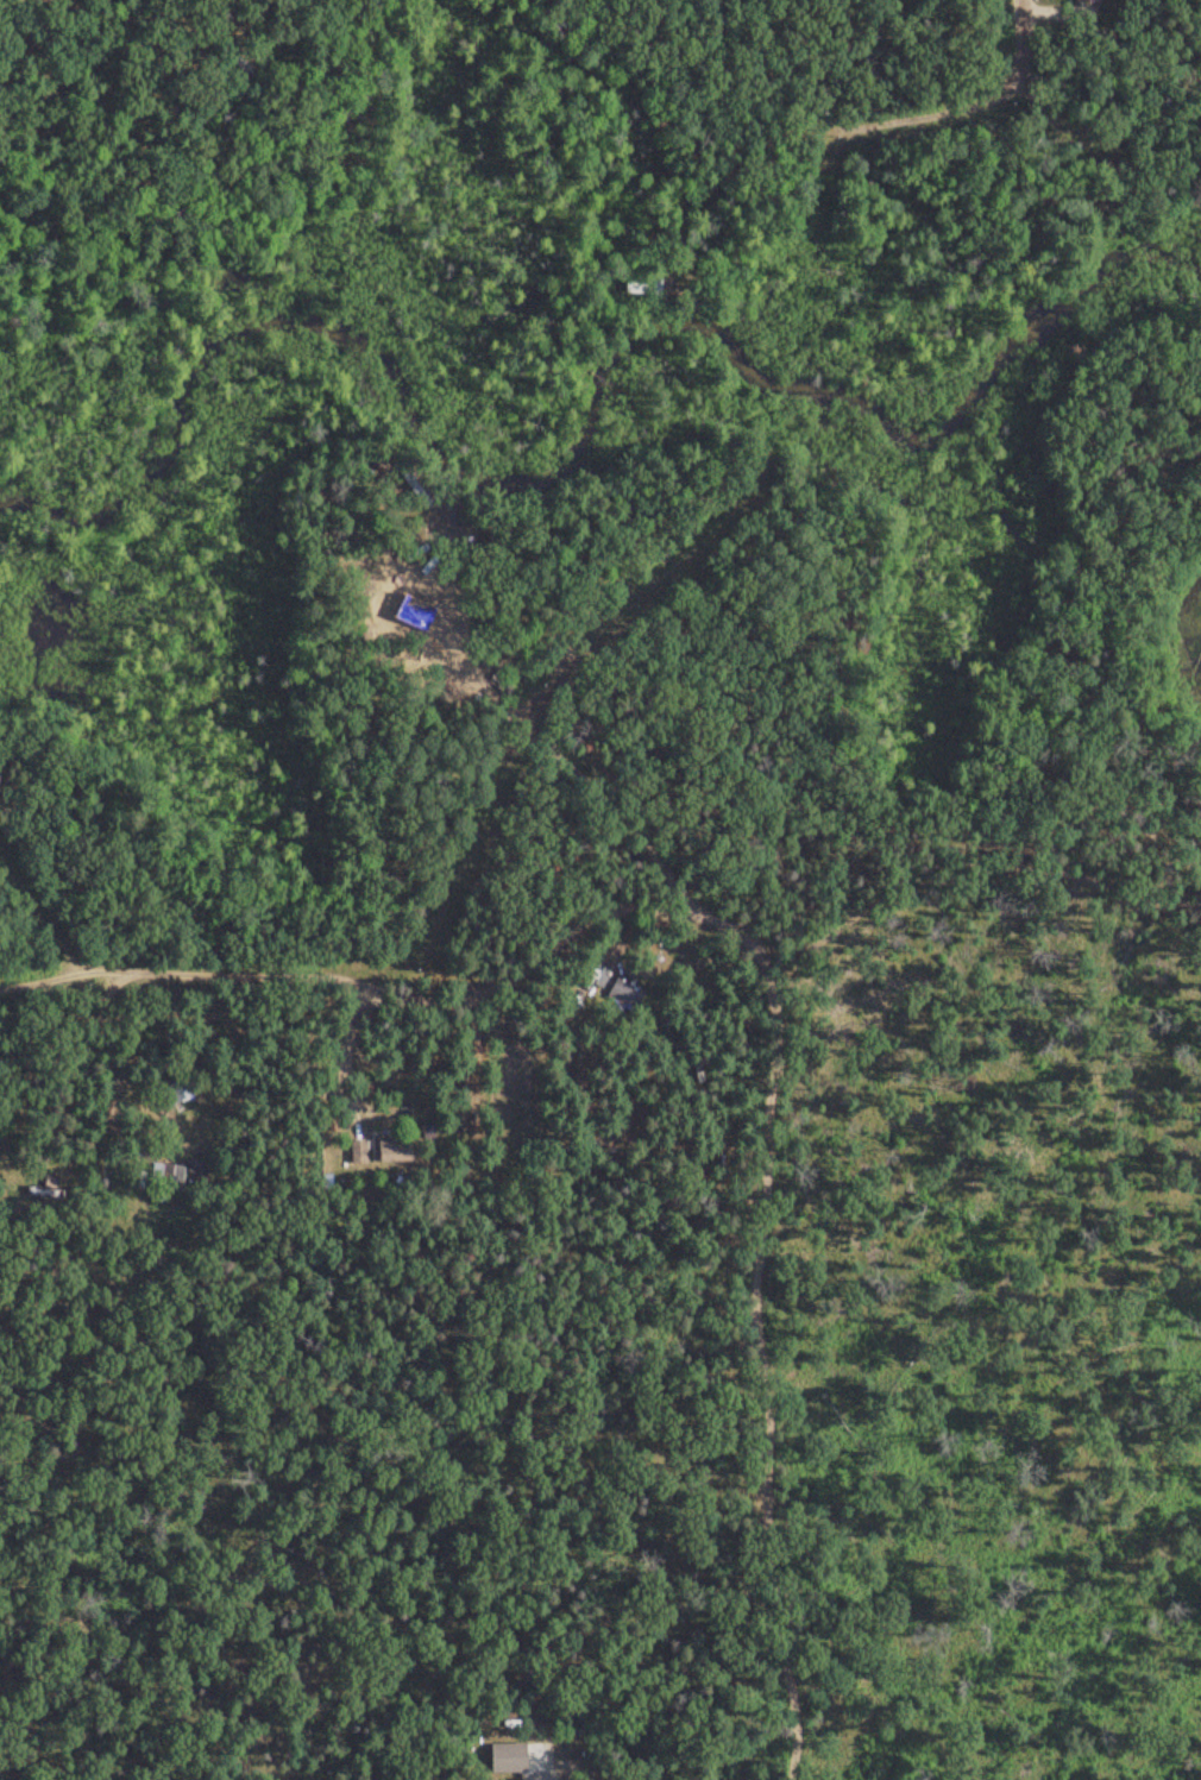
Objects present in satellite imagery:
building: (1086, 1)
road: (1002, 40)
river: (587, 430)
road: (373, 1115)
building: (394, 1150)
road: (671, 1248)
road: (471, 1514)

